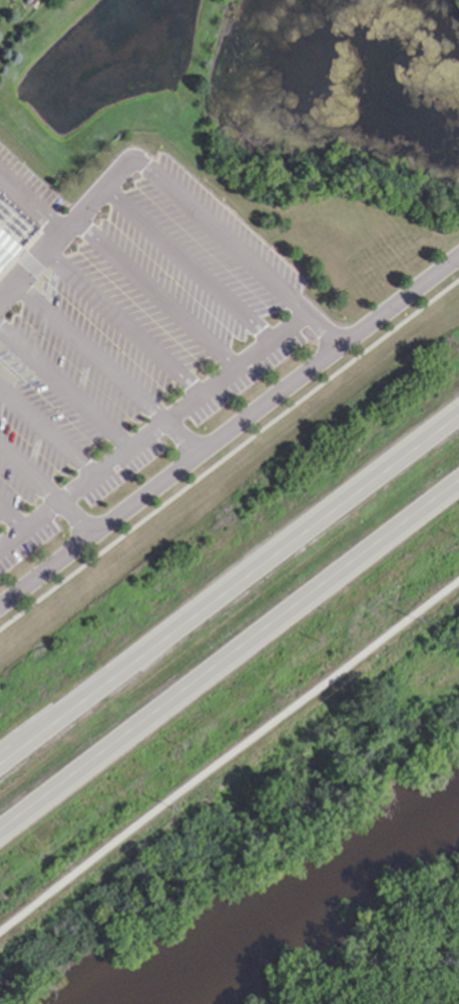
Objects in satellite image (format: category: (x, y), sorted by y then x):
road: (31, 205)
road: (216, 230)
road: (61, 235)
building: (6, 250)
road: (186, 263)
road: (154, 293)
road: (122, 322)
road: (321, 330)
parking lot: (128, 338)
road: (107, 370)
road: (64, 386)
road: (151, 427)
road: (46, 430)
road: (229, 431)
road: (228, 453)
road: (46, 492)
road: (11, 516)
road: (229, 589)
road: (229, 652)
road: (229, 757)
river: (290, 886)

